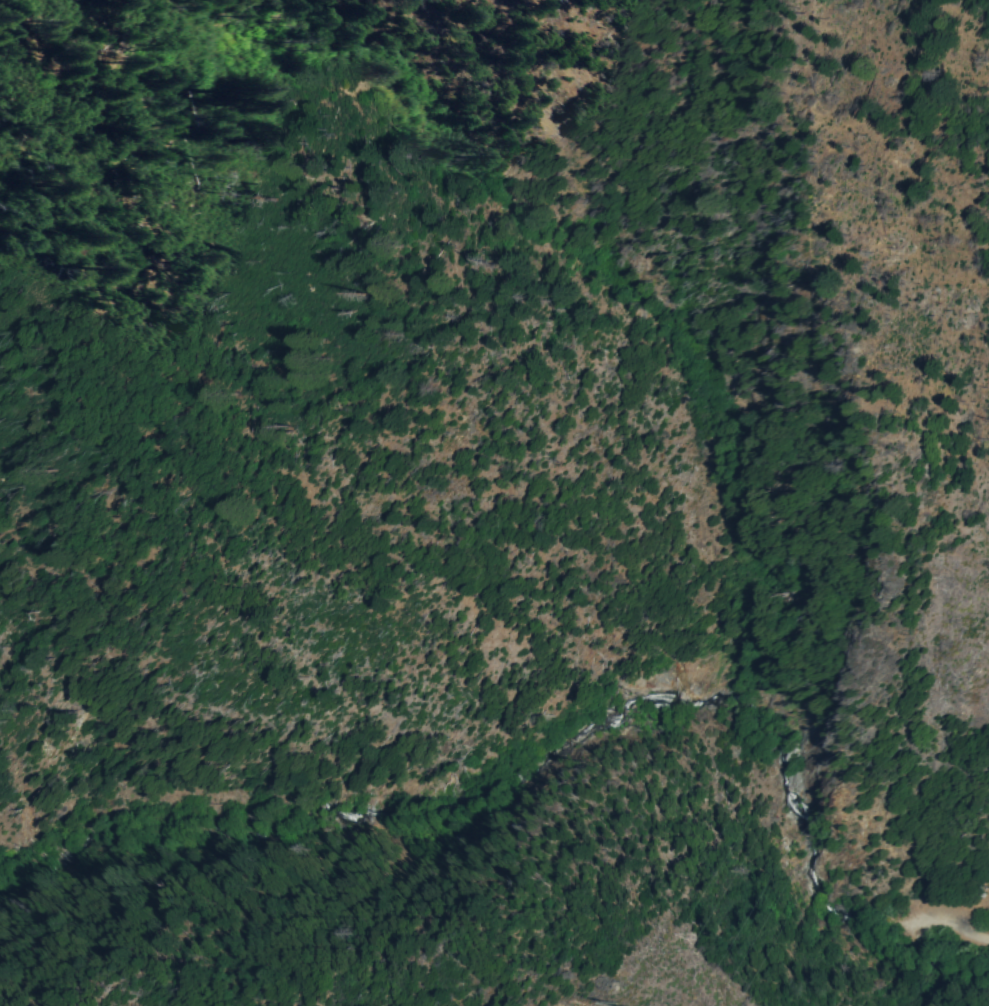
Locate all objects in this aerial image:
power tower: (633, 1005)

